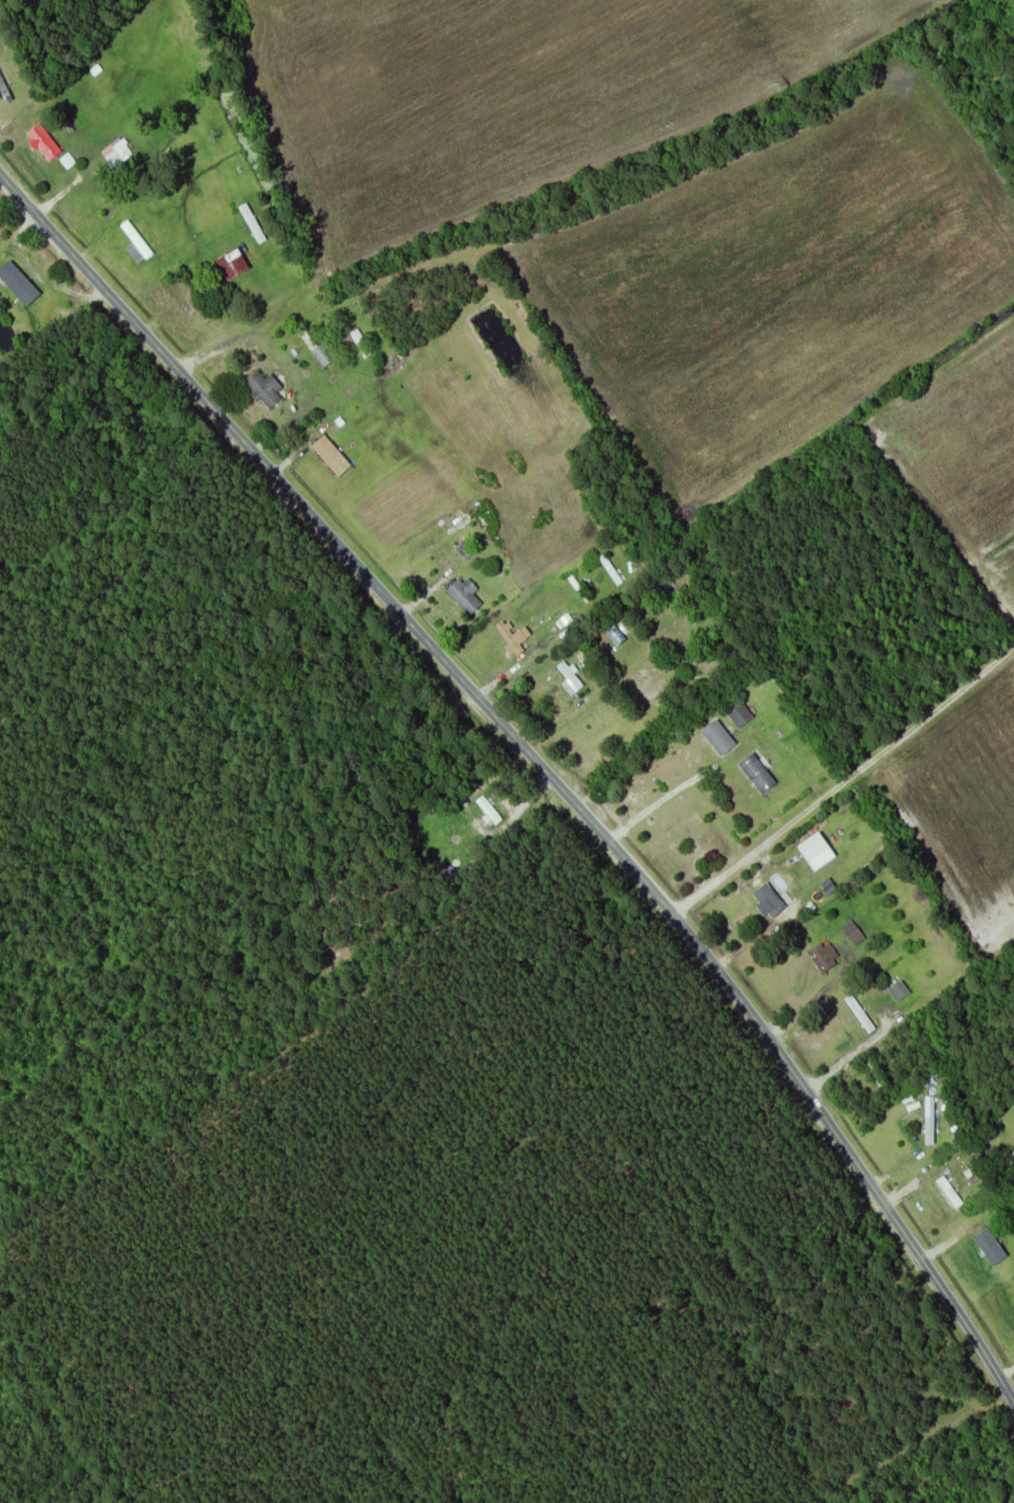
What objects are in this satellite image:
building: (44, 143)
building: (112, 158)
road: (556, 180)
road: (52, 202)
building: (137, 244)
building: (233, 265)
building: (184, 293)
building: (353, 340)
building: (327, 354)
road: (284, 380)
building: (266, 391)
building: (331, 457)
building: (466, 551)
road: (431, 592)
building: (465, 596)
building: (615, 636)
building: (556, 689)
road: (575, 708)
building: (741, 716)
building: (719, 739)
road: (541, 760)
road: (720, 762)
building: (758, 775)
road: (847, 783)
building: (489, 812)
road: (718, 822)
building: (857, 937)
building: (824, 959)
building: (900, 992)
road: (805, 1008)
road: (911, 1012)
building: (860, 1015)
building: (877, 1075)
building: (920, 1121)
road: (903, 1190)
building: (950, 1194)
road: (947, 1241)
building: (991, 1249)
road: (1009, 1377)

